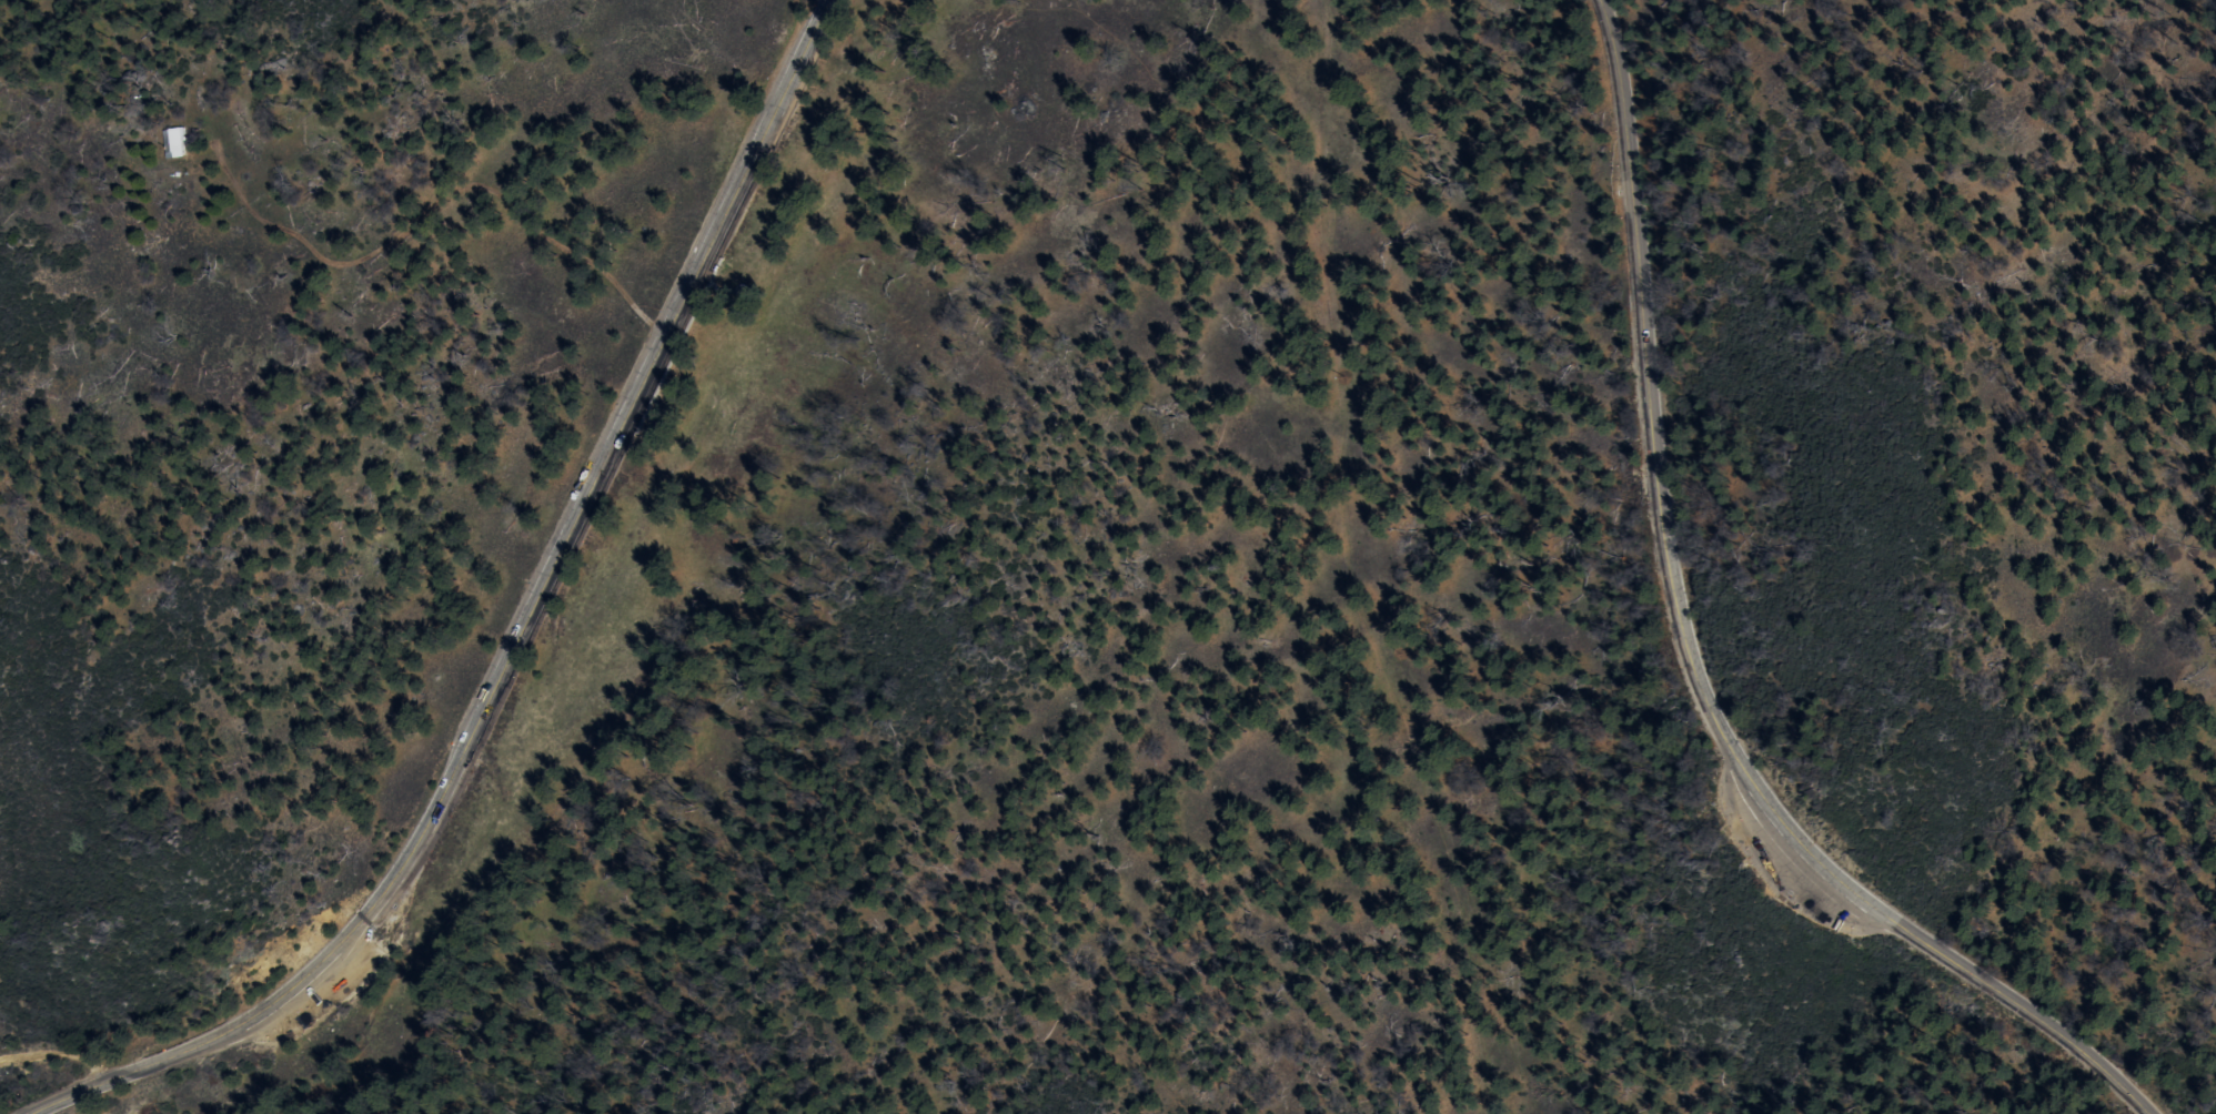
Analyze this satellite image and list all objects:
road: (804, 16)
building: (173, 142)
road: (715, 284)
parking lot: (626, 408)
road: (522, 636)
road: (1690, 655)
parking lot: (323, 995)
road: (59, 1056)

